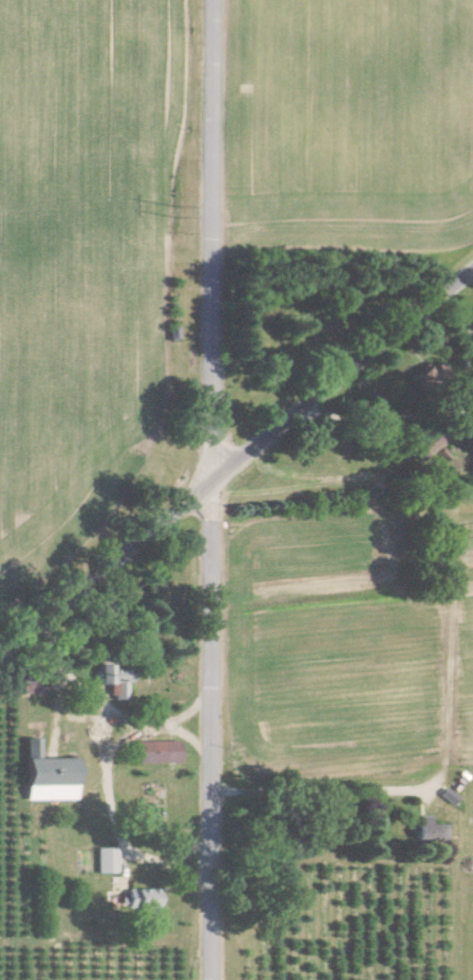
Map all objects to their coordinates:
power tower: (183, 221)
road: (402, 414)
building: (427, 445)
road: (236, 467)
road: (216, 490)
road: (92, 694)
road: (173, 723)
building: (157, 752)
road: (318, 790)
road: (112, 800)
building: (430, 830)
road: (164, 861)
building: (106, 863)
building: (144, 901)

